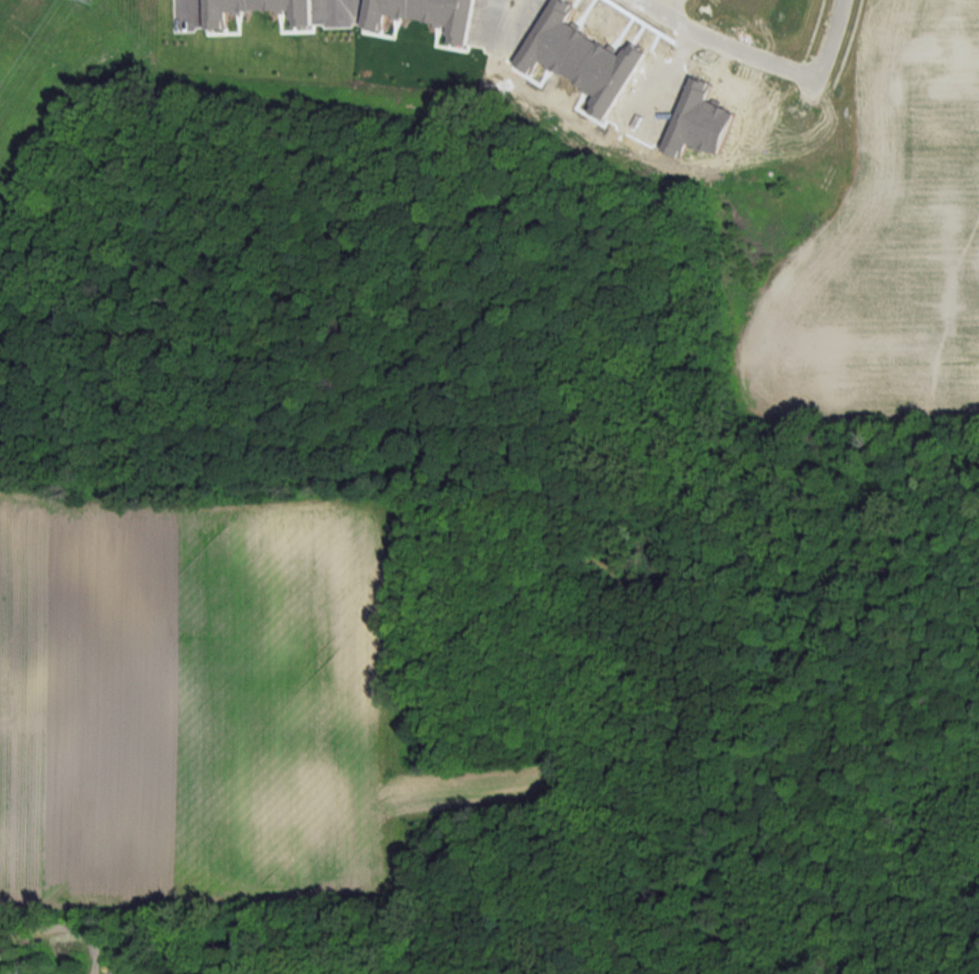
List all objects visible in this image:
road: (334, 2)
road: (180, 6)
road: (506, 16)
road: (731, 40)
road: (821, 48)
road: (675, 69)
crop: (885, 244)
crop: (188, 696)

